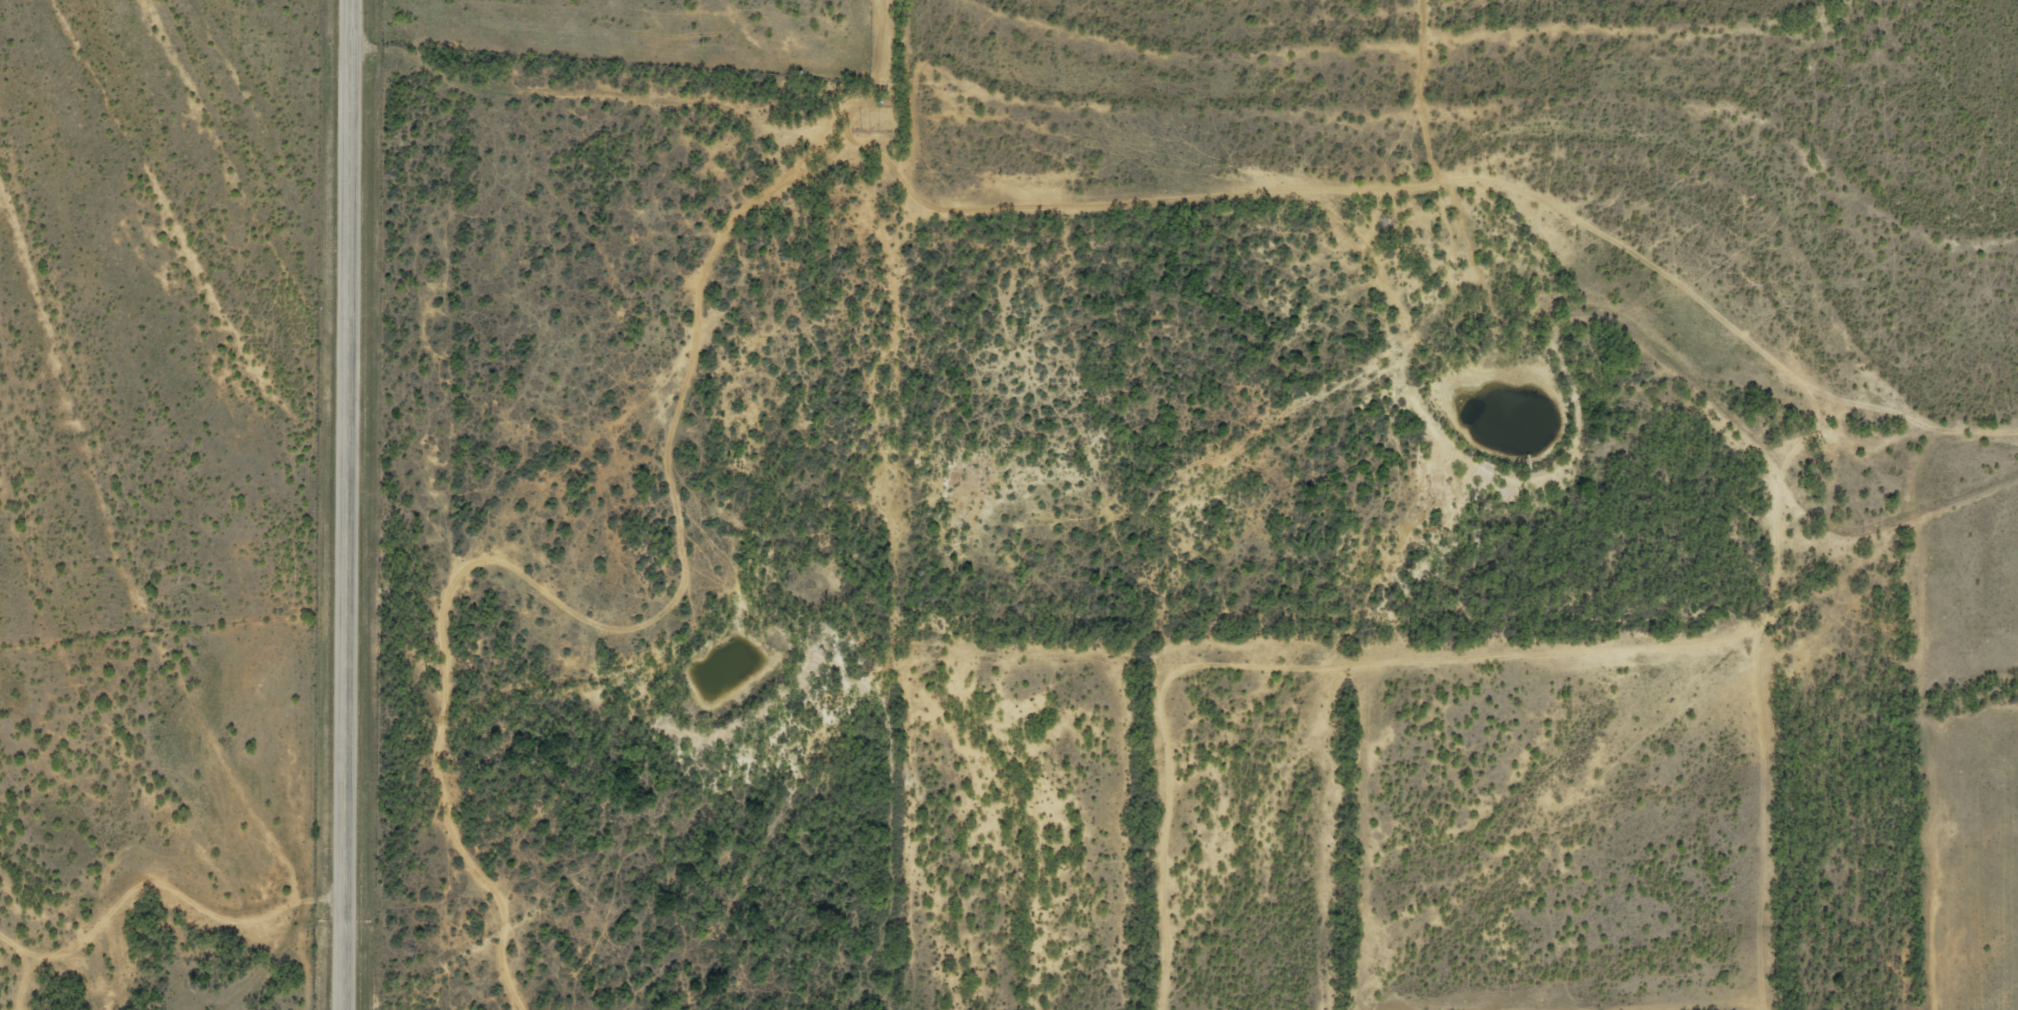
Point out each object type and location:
building: (1826, 482)
road: (345, 505)

